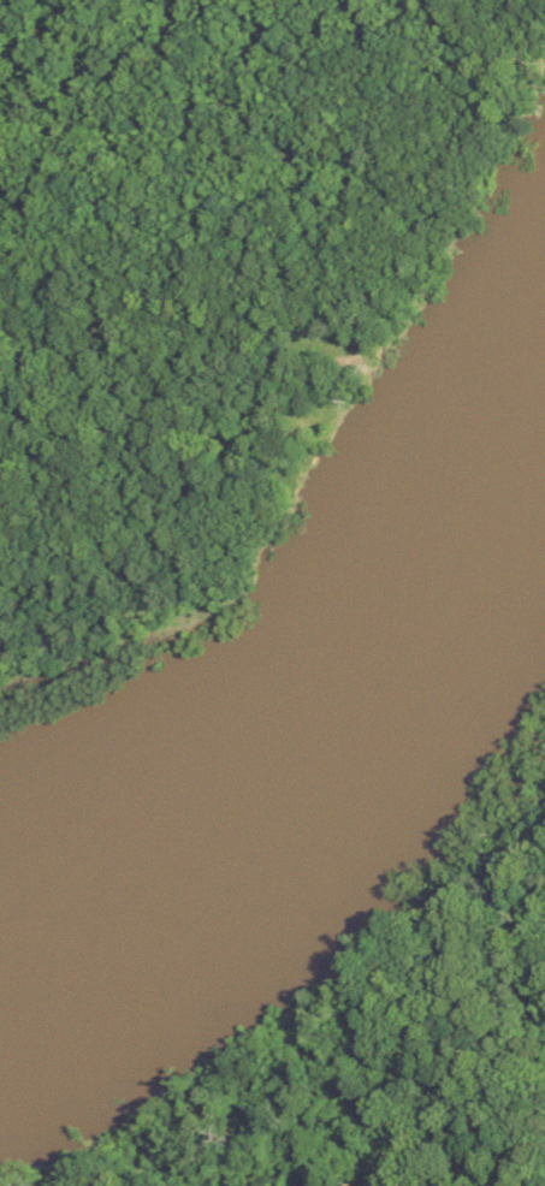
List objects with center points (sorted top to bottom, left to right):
river: (337, 718)

